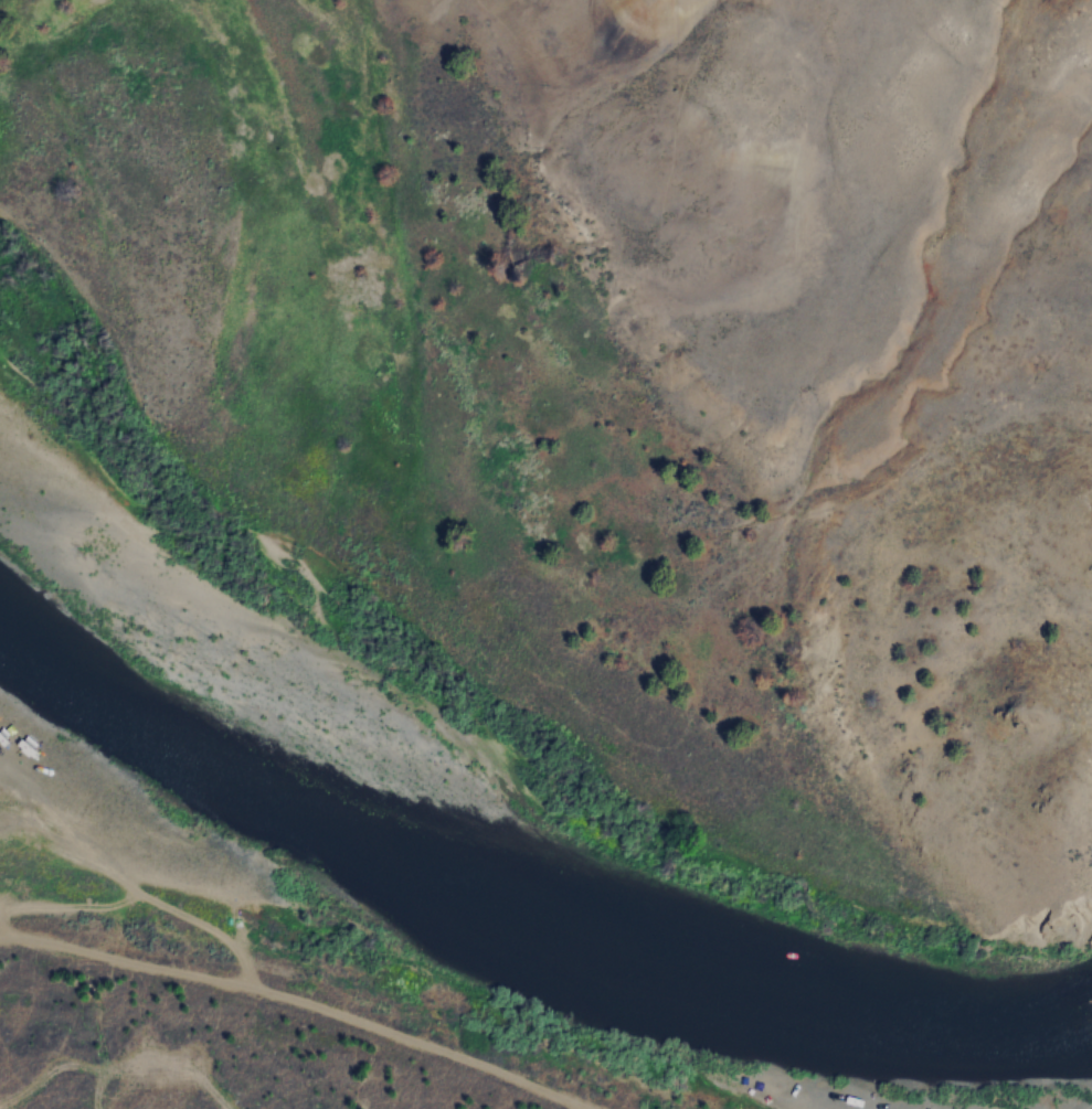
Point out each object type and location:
river: (512, 929)
road: (295, 1001)

